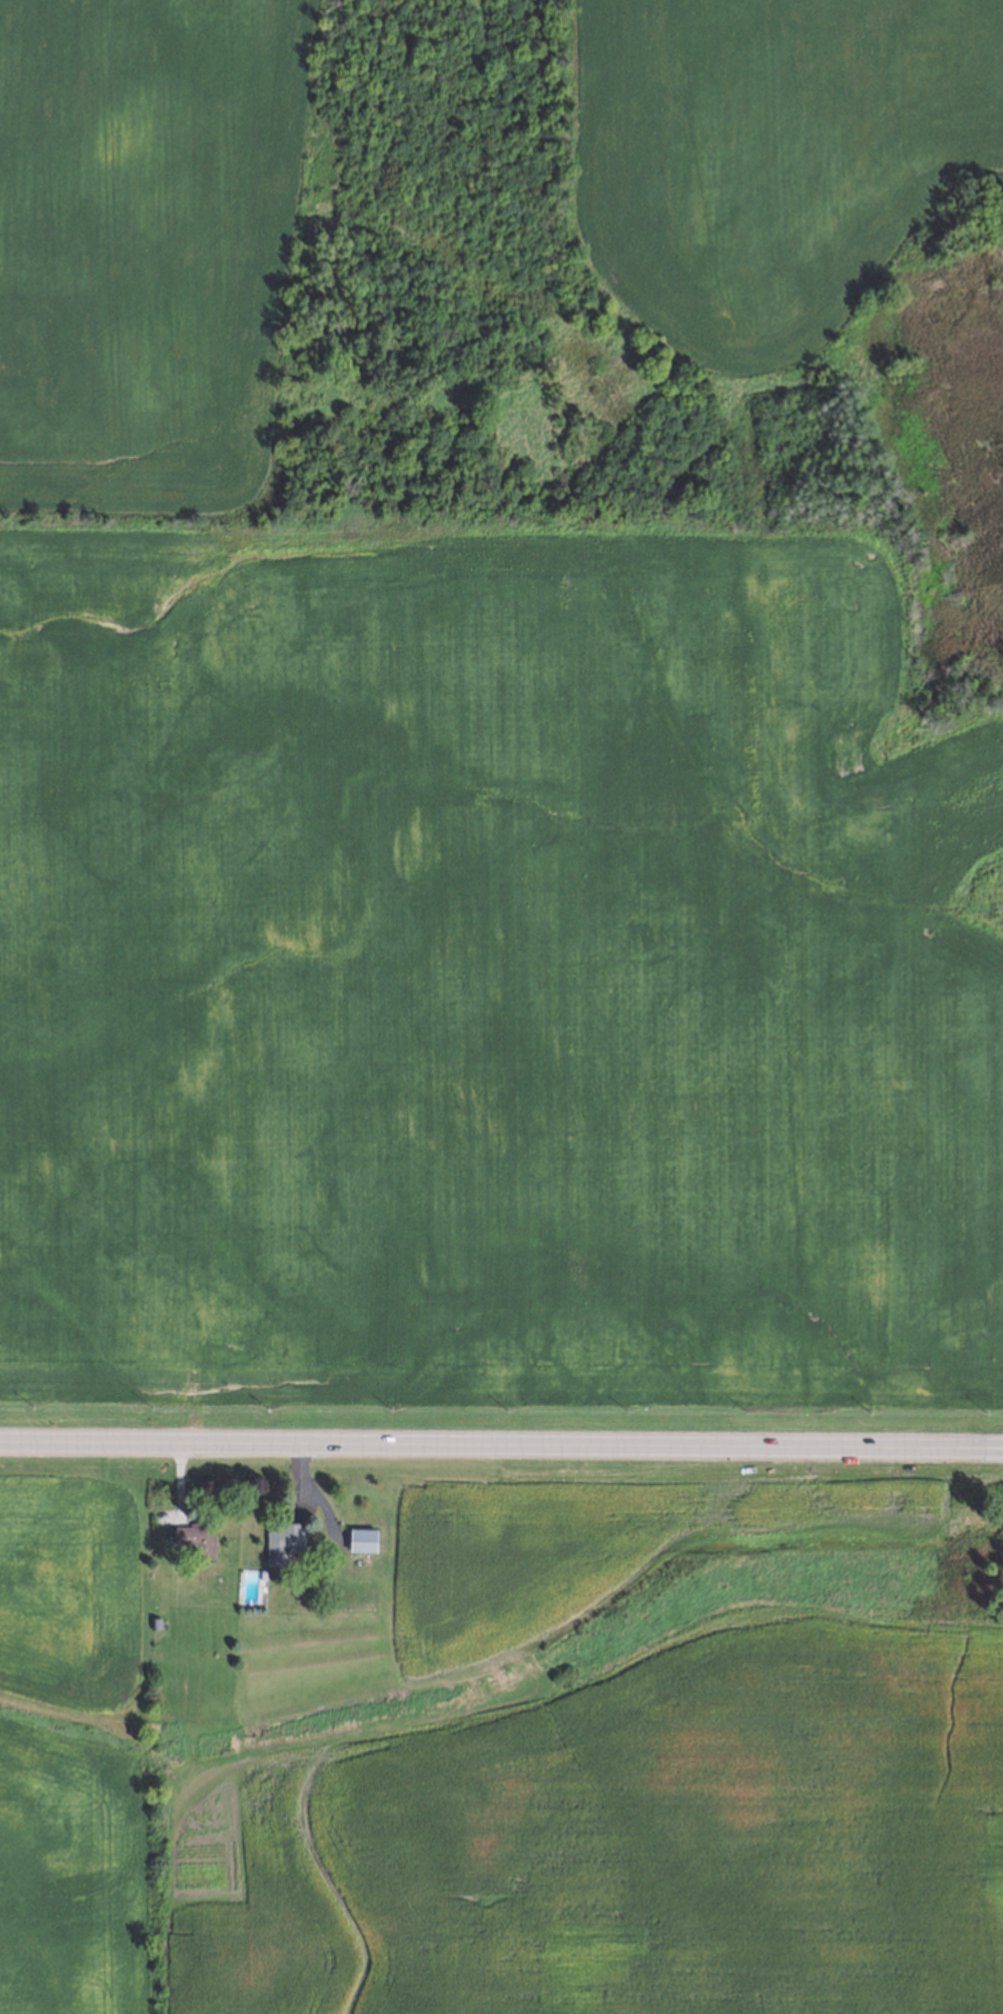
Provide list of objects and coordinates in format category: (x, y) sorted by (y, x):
road: (501, 1443)
building: (194, 1534)
building: (358, 1538)
building: (278, 1539)
building: (260, 1575)
building: (154, 1626)

